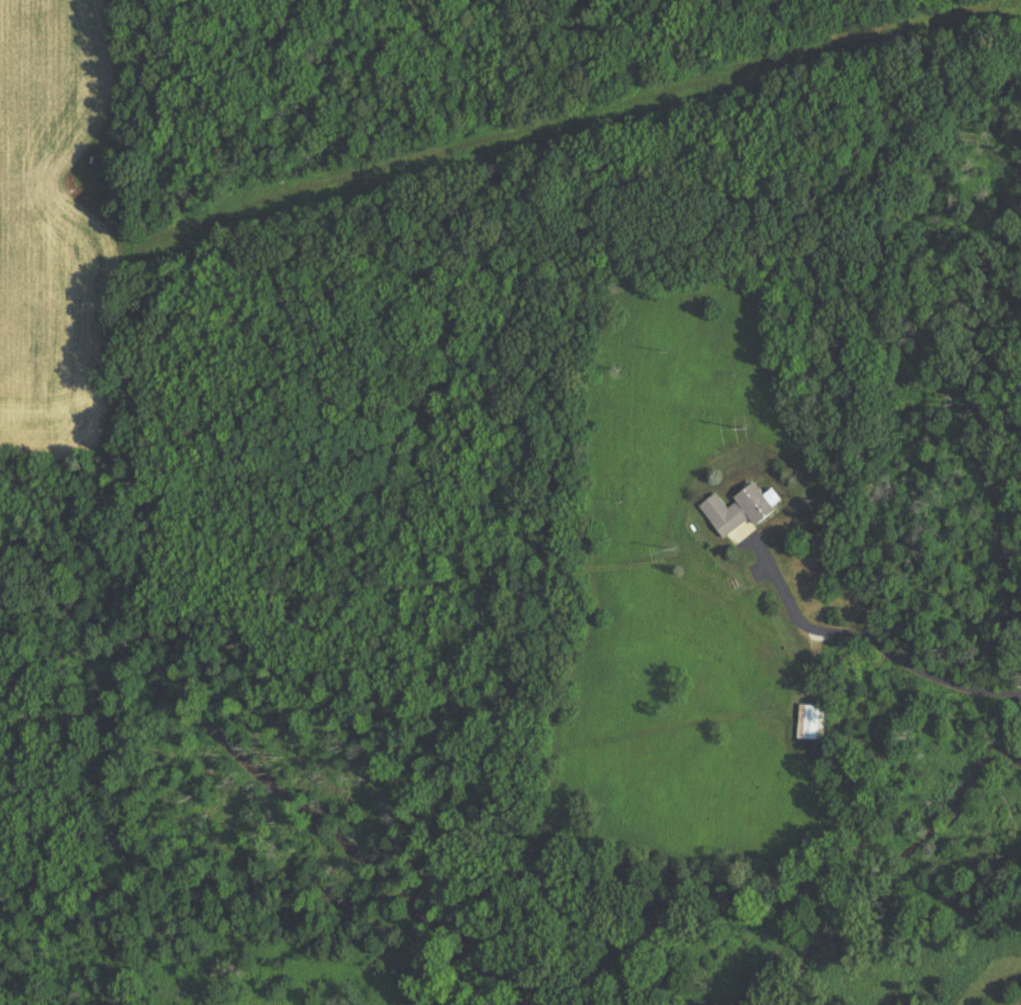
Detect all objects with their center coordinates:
building: (740, 510)
road: (872, 644)
building: (812, 722)

